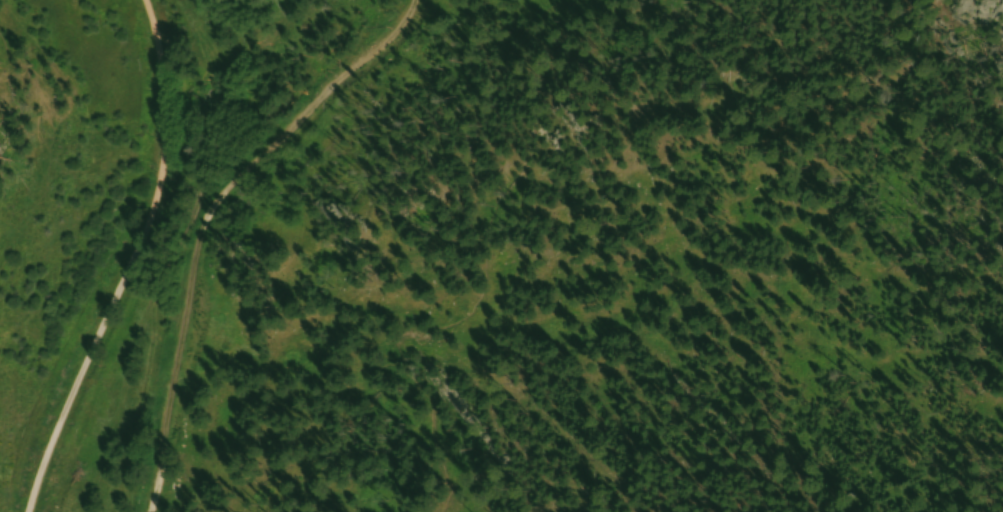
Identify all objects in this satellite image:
road: (133, 261)

